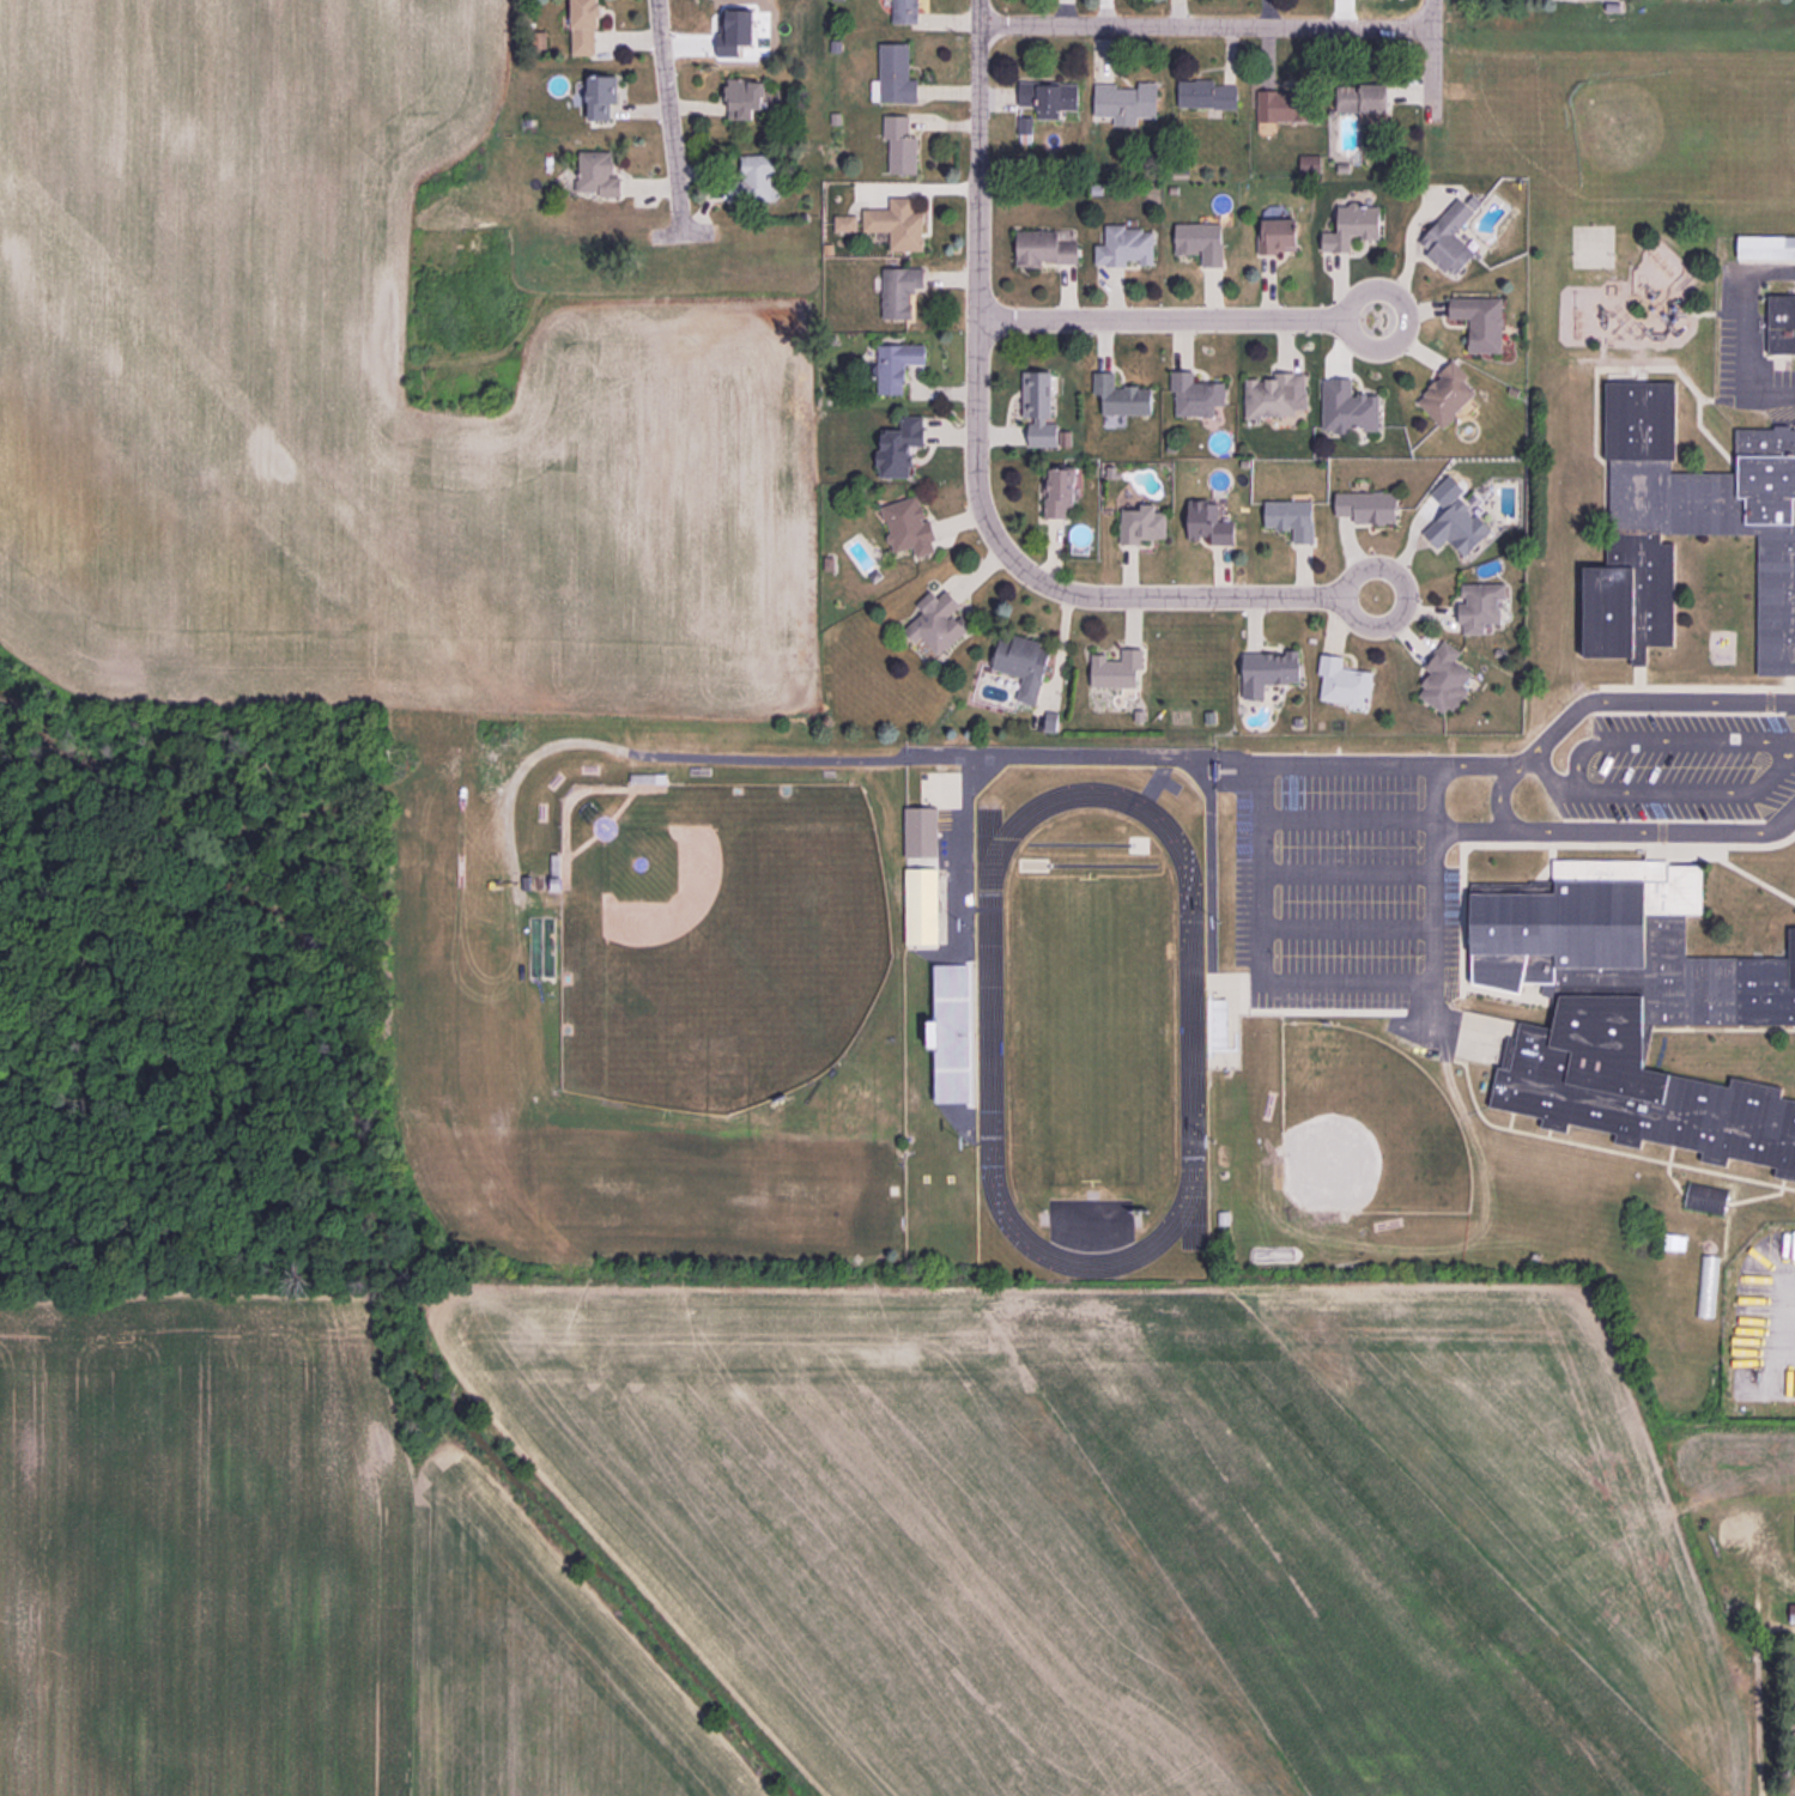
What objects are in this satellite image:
building: (905, 11)
building: (584, 25)
road: (1205, 28)
building: (539, 40)
road: (1431, 61)
building: (895, 75)
building: (1206, 93)
building: (601, 96)
building: (744, 97)
building: (1049, 97)
building: (1363, 98)
building: (1126, 102)
building: (1285, 104)
road: (667, 116)
building: (1025, 125)
building: (900, 144)
building: (1311, 163)
building: (598, 174)
building: (753, 180)
building: (844, 223)
building: (897, 224)
building: (1353, 226)
building: (1451, 233)
building: (1276, 236)
building: (1200, 242)
building: (1126, 245)
building: (1766, 247)
building: (1044, 248)
building: (900, 290)
road: (1256, 314)
building: (1480, 321)
building: (1782, 324)
parking lot: (1746, 345)
road: (1739, 358)
building: (896, 365)
building: (1447, 394)
building: (1121, 395)
building: (1196, 395)
building: (1274, 395)
crop: (356, 400)
building: (1038, 407)
building: (1347, 407)
building: (899, 448)
road: (974, 454)
building: (1059, 492)
building: (1368, 506)
building: (1291, 518)
building: (1209, 521)
building: (1453, 522)
building: (1141, 524)
building: (909, 526)
building: (1686, 527)
road: (1407, 593)
building: (1482, 606)
building: (938, 621)
building: (1023, 663)
building: (1117, 669)
building: (1269, 671)
building: (1445, 679)
building: (1342, 680)
building: (1050, 721)
road: (1528, 746)
parking lot: (1632, 764)
road: (1577, 770)
road: (1545, 773)
building: (642, 779)
building: (1278, 796)
road: (1620, 831)
building: (554, 873)
building: (923, 906)
building: (1633, 1008)
building: (952, 1018)
track: (1190, 1031)
park: (1088, 1032)
building: (1706, 1197)
building: (1670, 1239)
crop: (850, 1548)
building: (1793, 1612)

